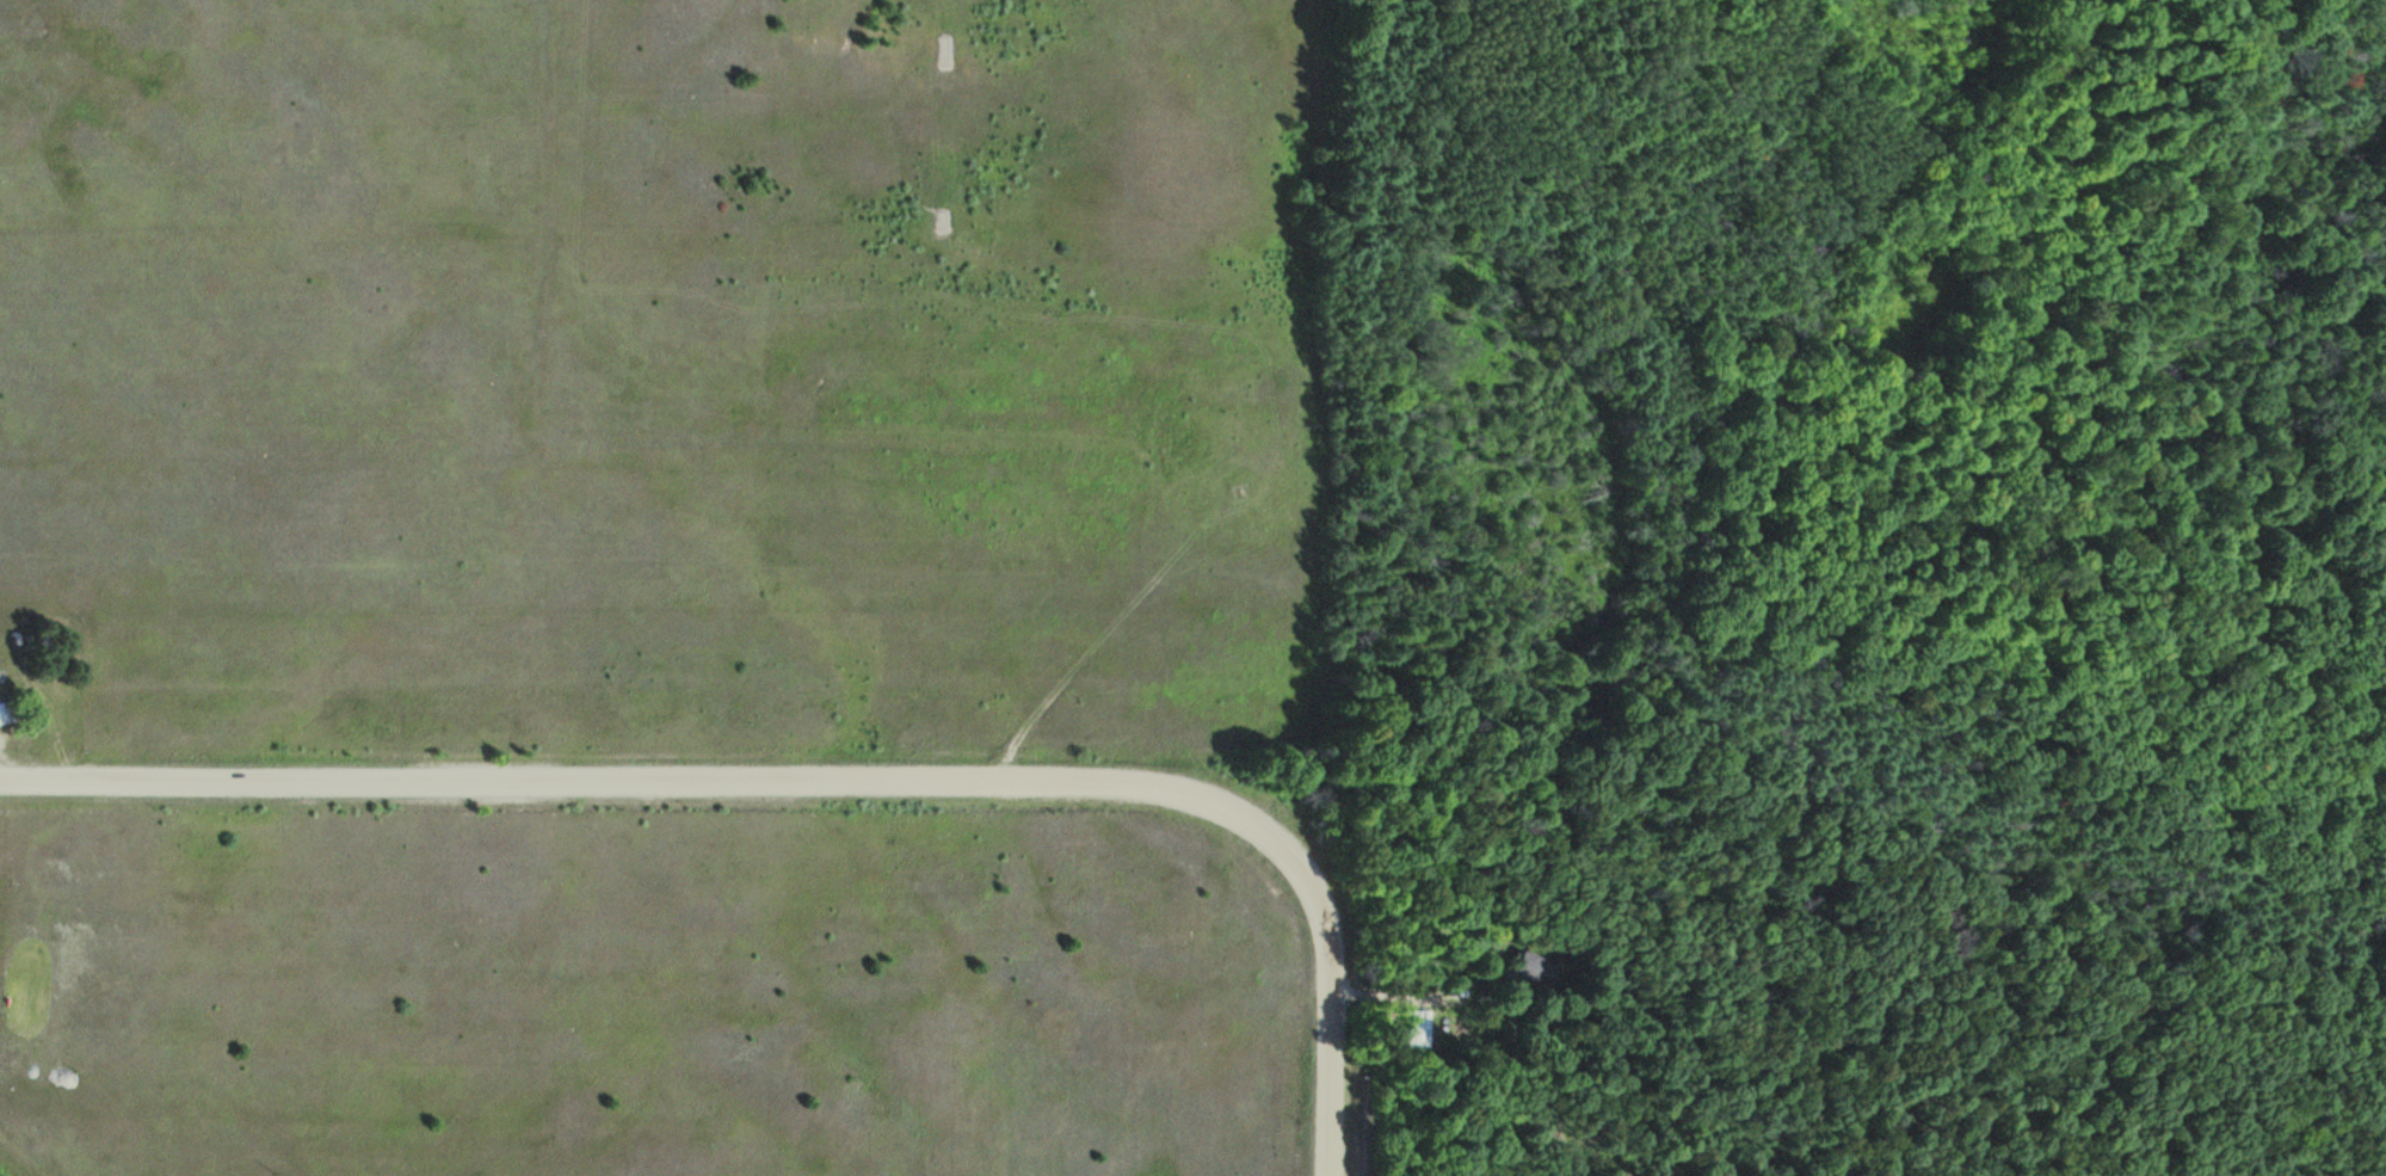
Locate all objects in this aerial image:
building: (11, 712)
road: (820, 788)
building: (1543, 969)
building: (1420, 1030)

